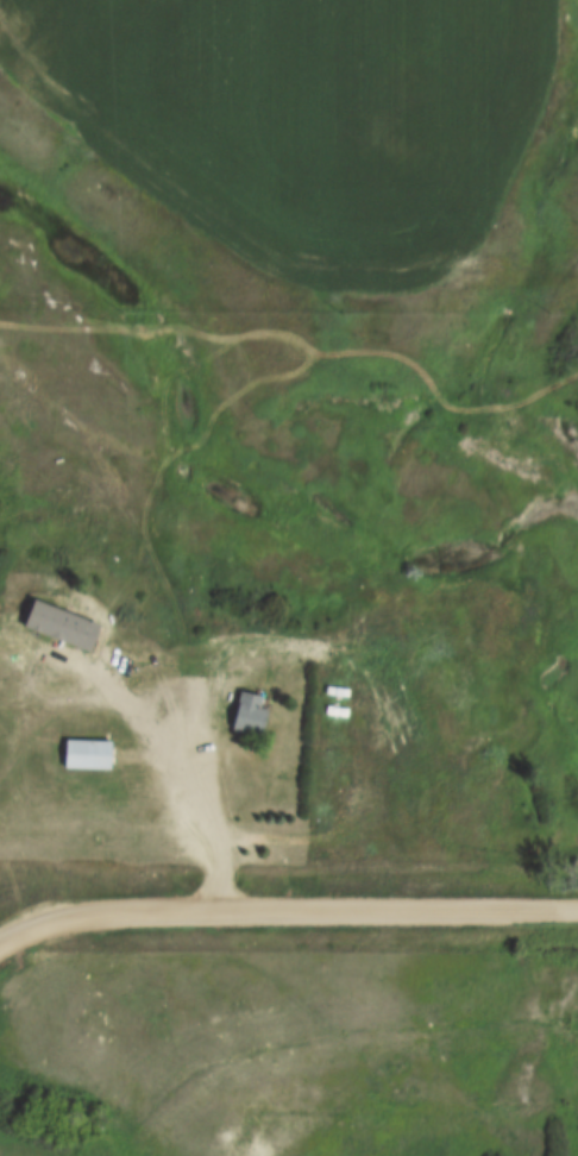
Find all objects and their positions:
building: (249, 709)
building: (87, 749)
road: (211, 783)
road: (285, 911)

